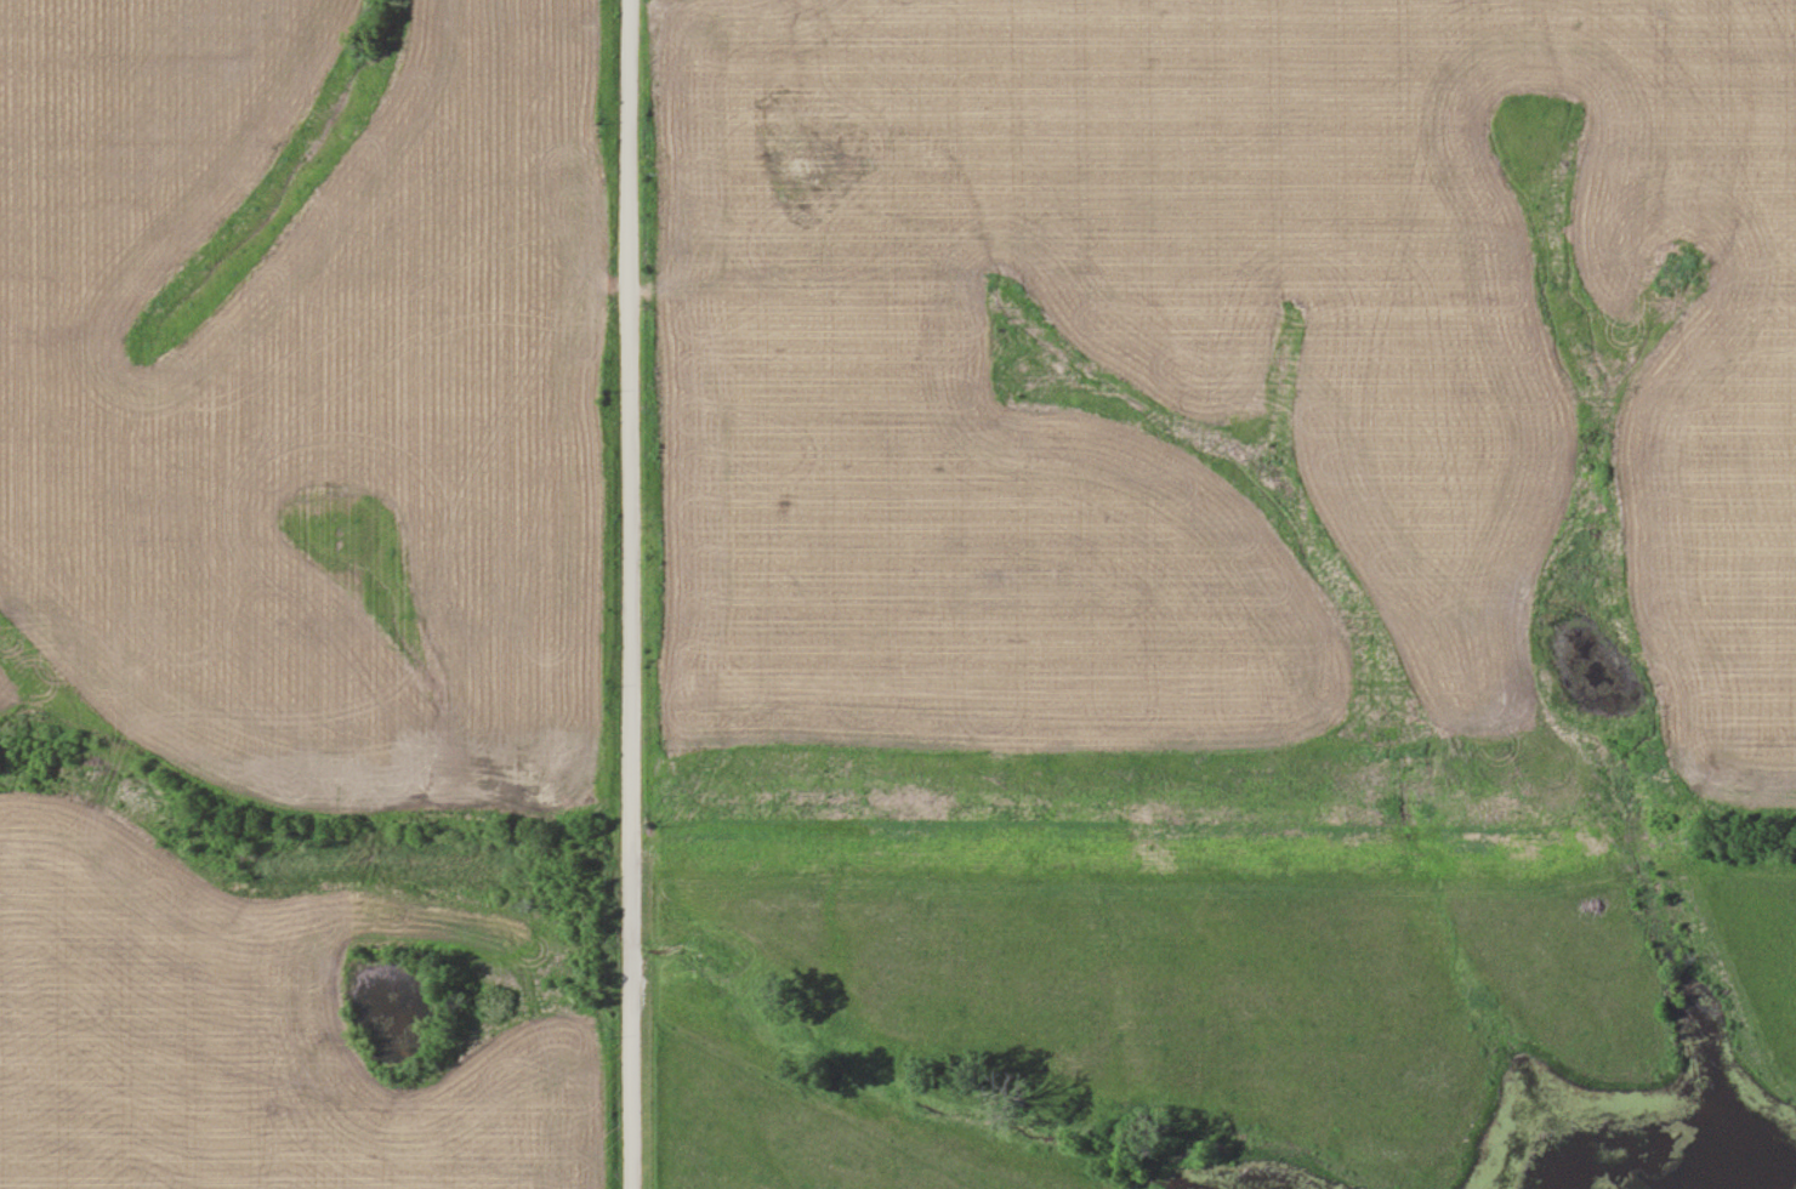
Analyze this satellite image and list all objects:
road: (624, 594)

